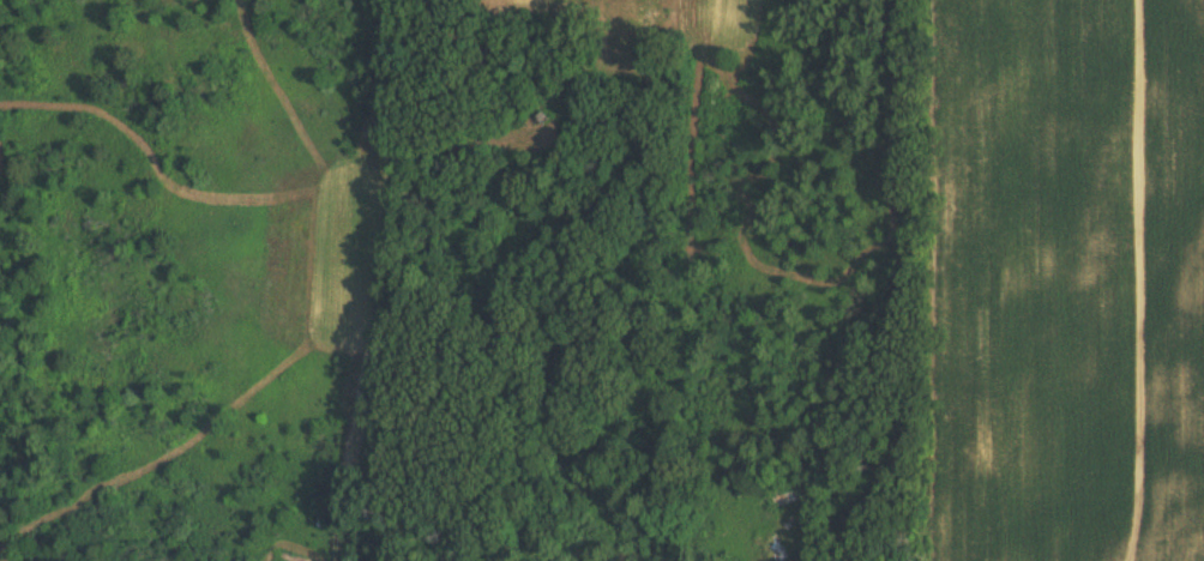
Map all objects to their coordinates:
building: (791, 494)

